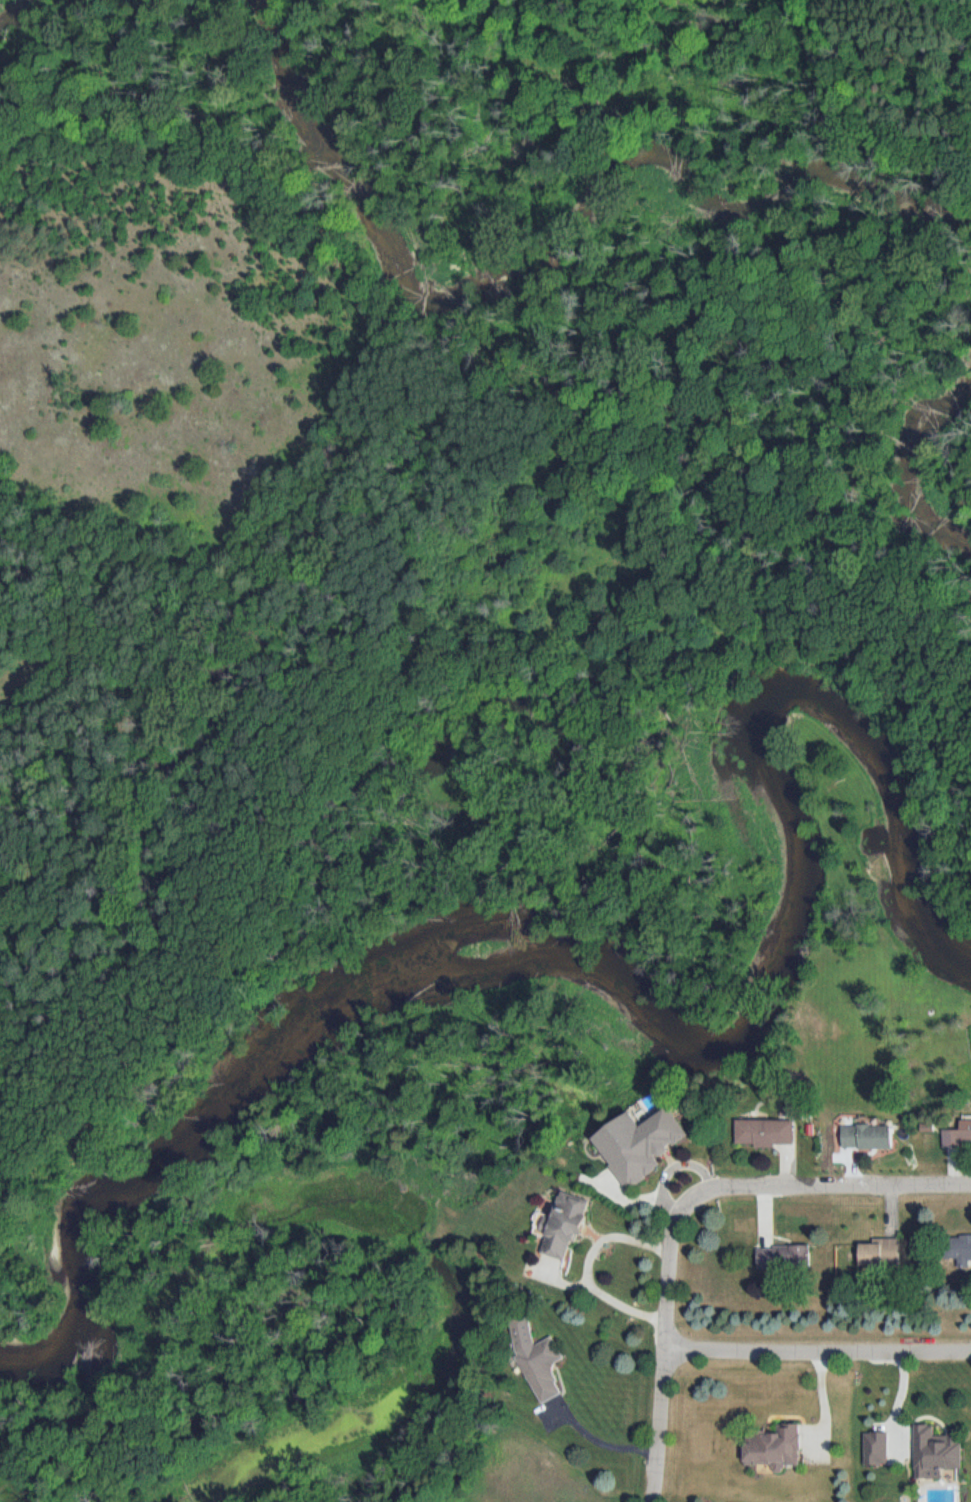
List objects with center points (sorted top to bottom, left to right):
park: (968, 1)
road: (644, 395)
park: (450, 722)
road: (422, 724)
river: (627, 1001)
building: (767, 1133)
building: (958, 1135)
building: (869, 1138)
building: (650, 1140)
road: (681, 1209)
building: (567, 1227)
building: (959, 1251)
building: (882, 1252)
building: (785, 1257)
road: (816, 1346)
building: (539, 1359)
road: (605, 1441)
building: (776, 1448)
building: (940, 1452)

